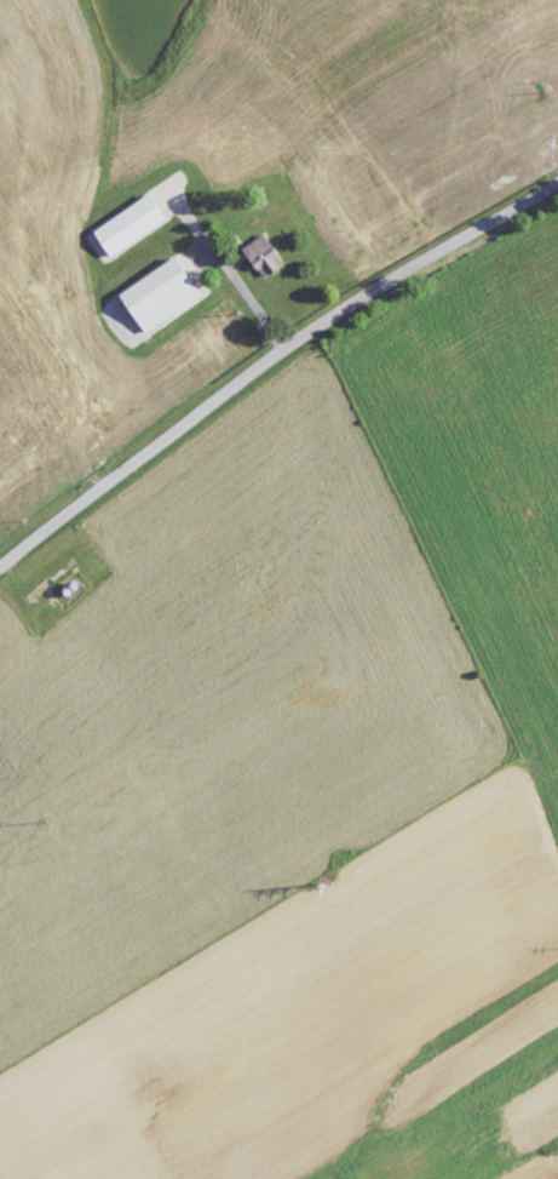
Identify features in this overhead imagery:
building: (132, 224)
building: (264, 252)
building: (163, 293)
road: (269, 357)

